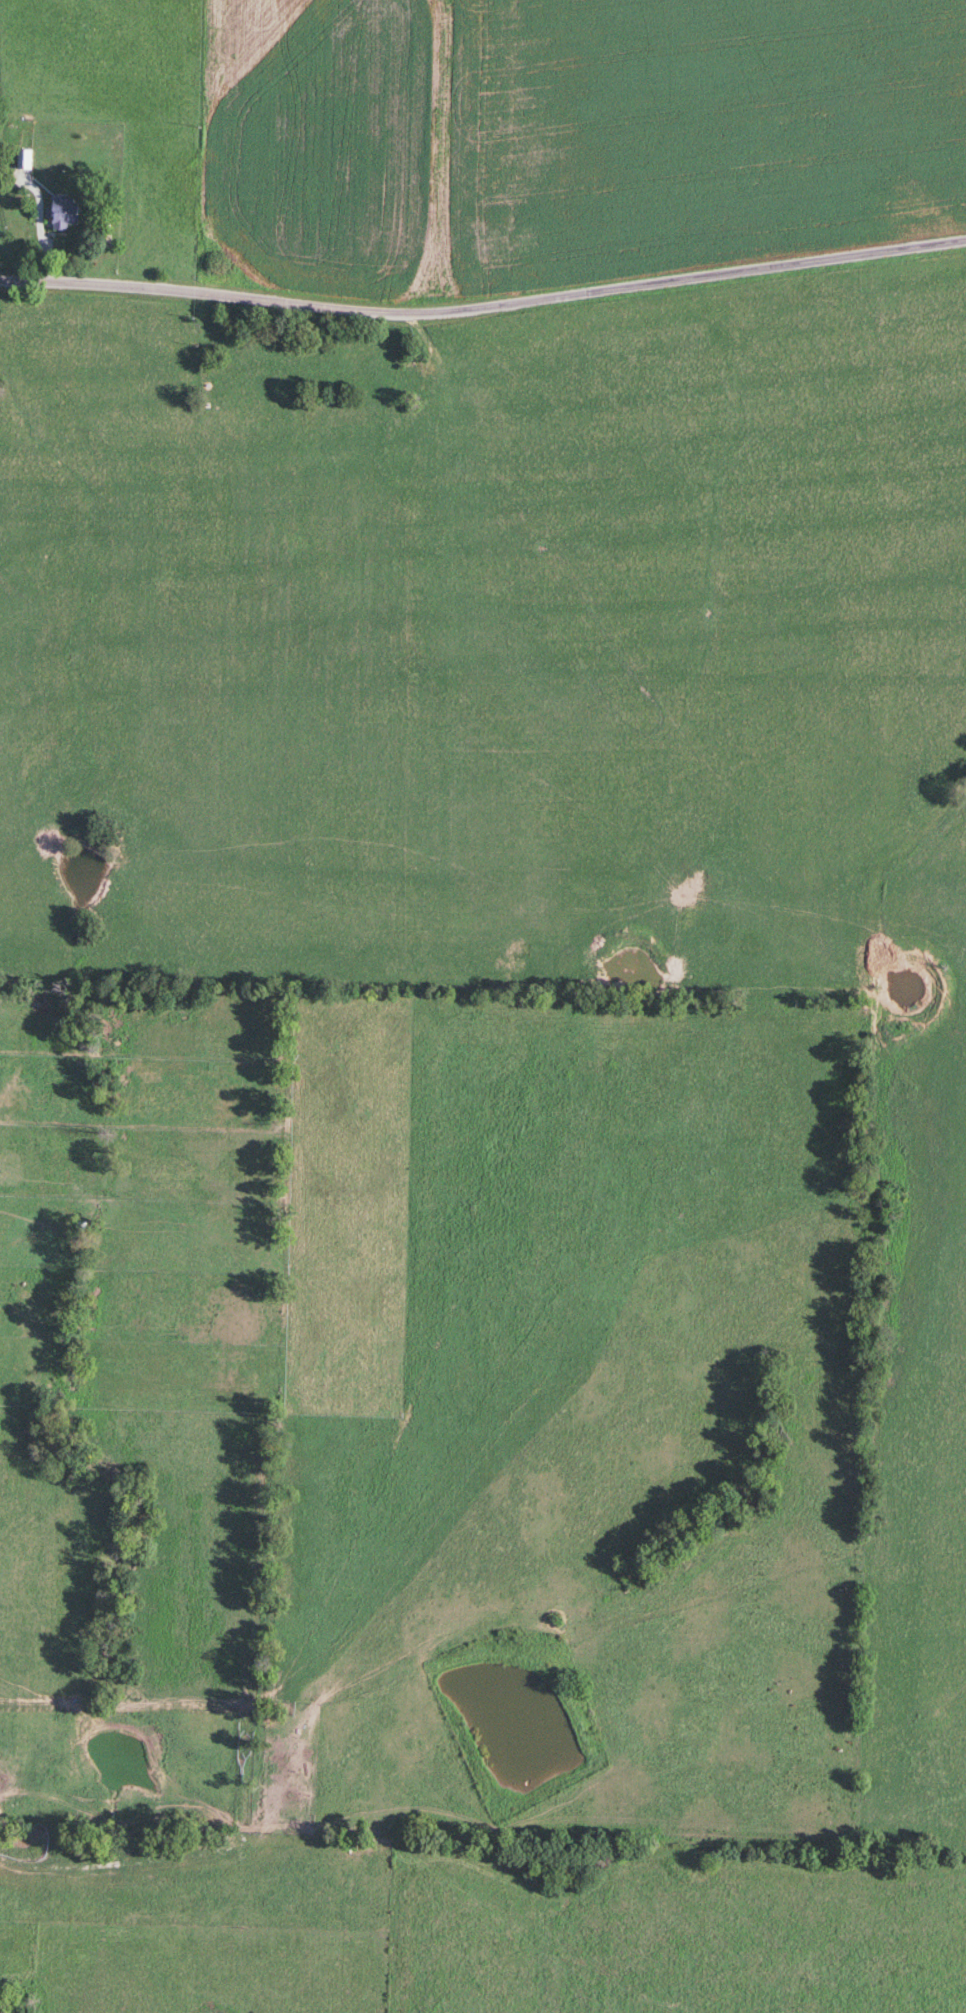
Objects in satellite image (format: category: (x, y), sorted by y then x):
building: (24, 157)
building: (67, 210)
road: (484, 307)

